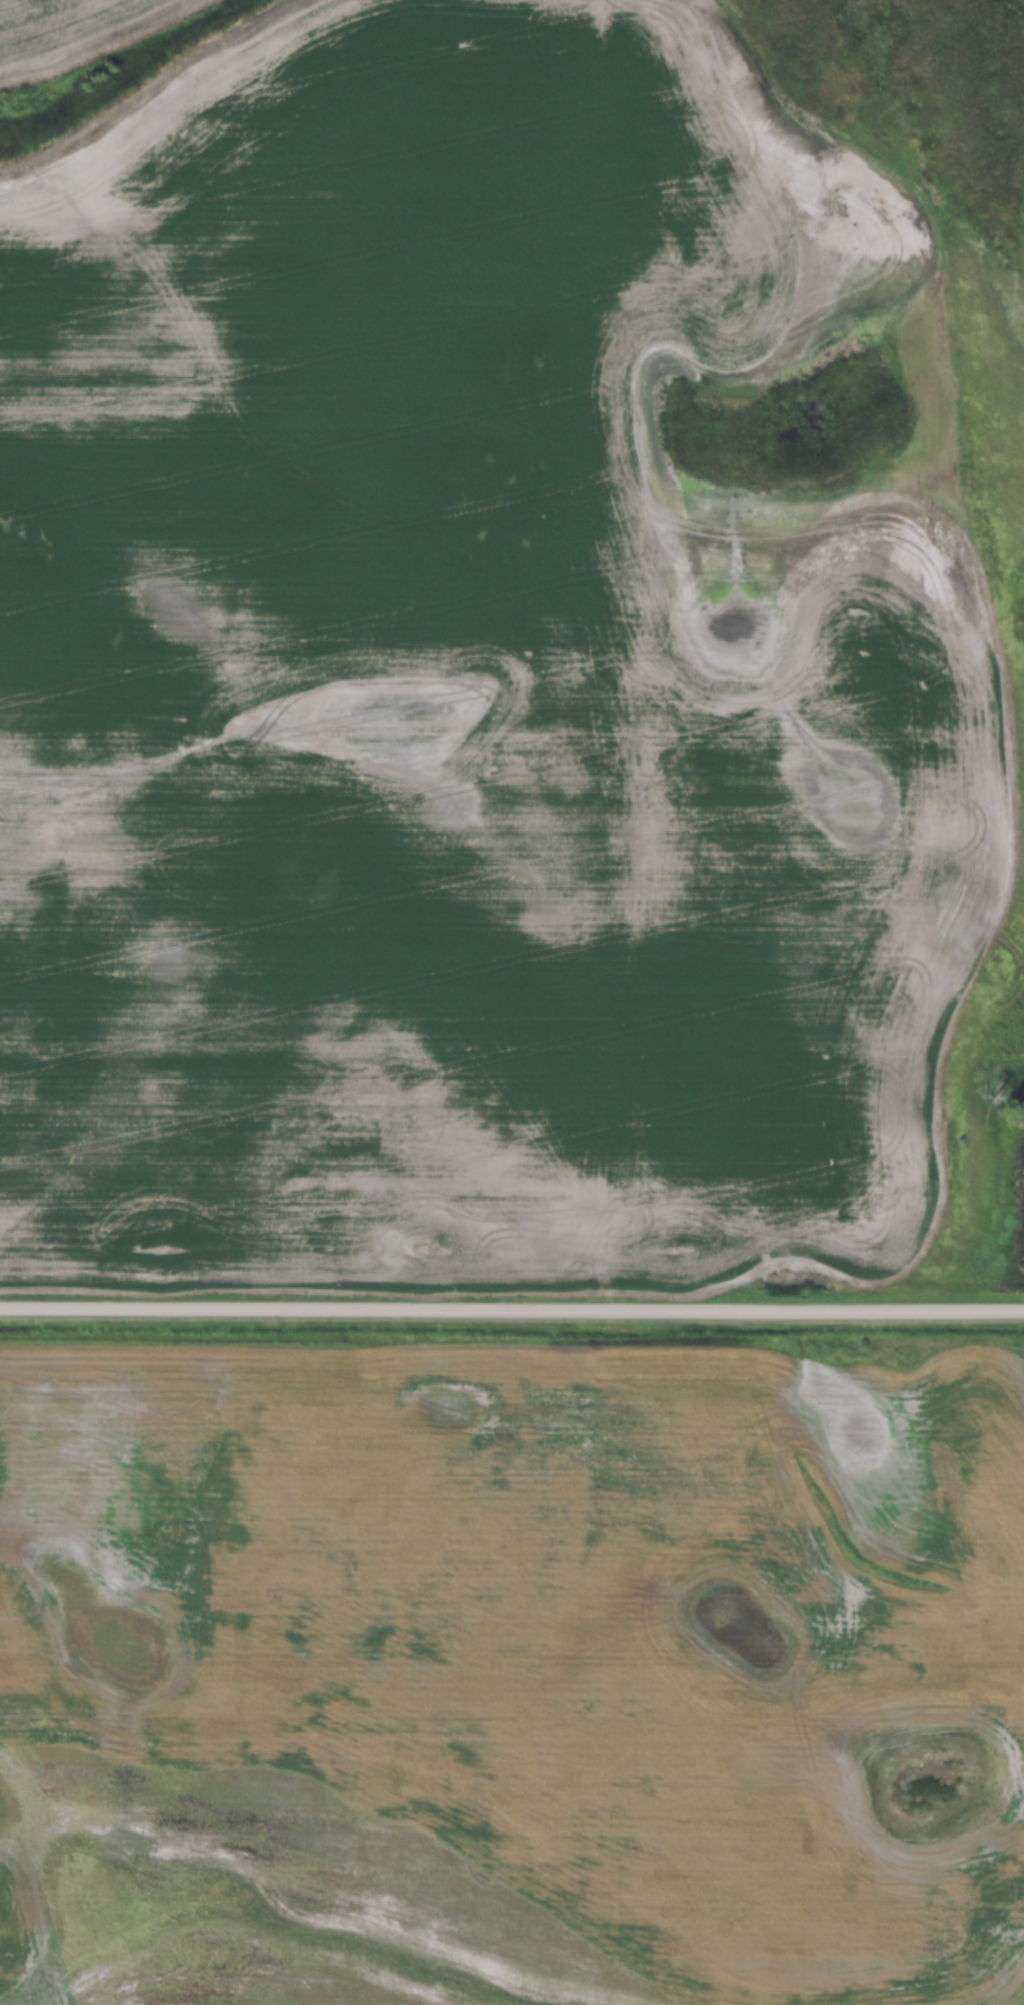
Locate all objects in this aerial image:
road: (511, 1312)

